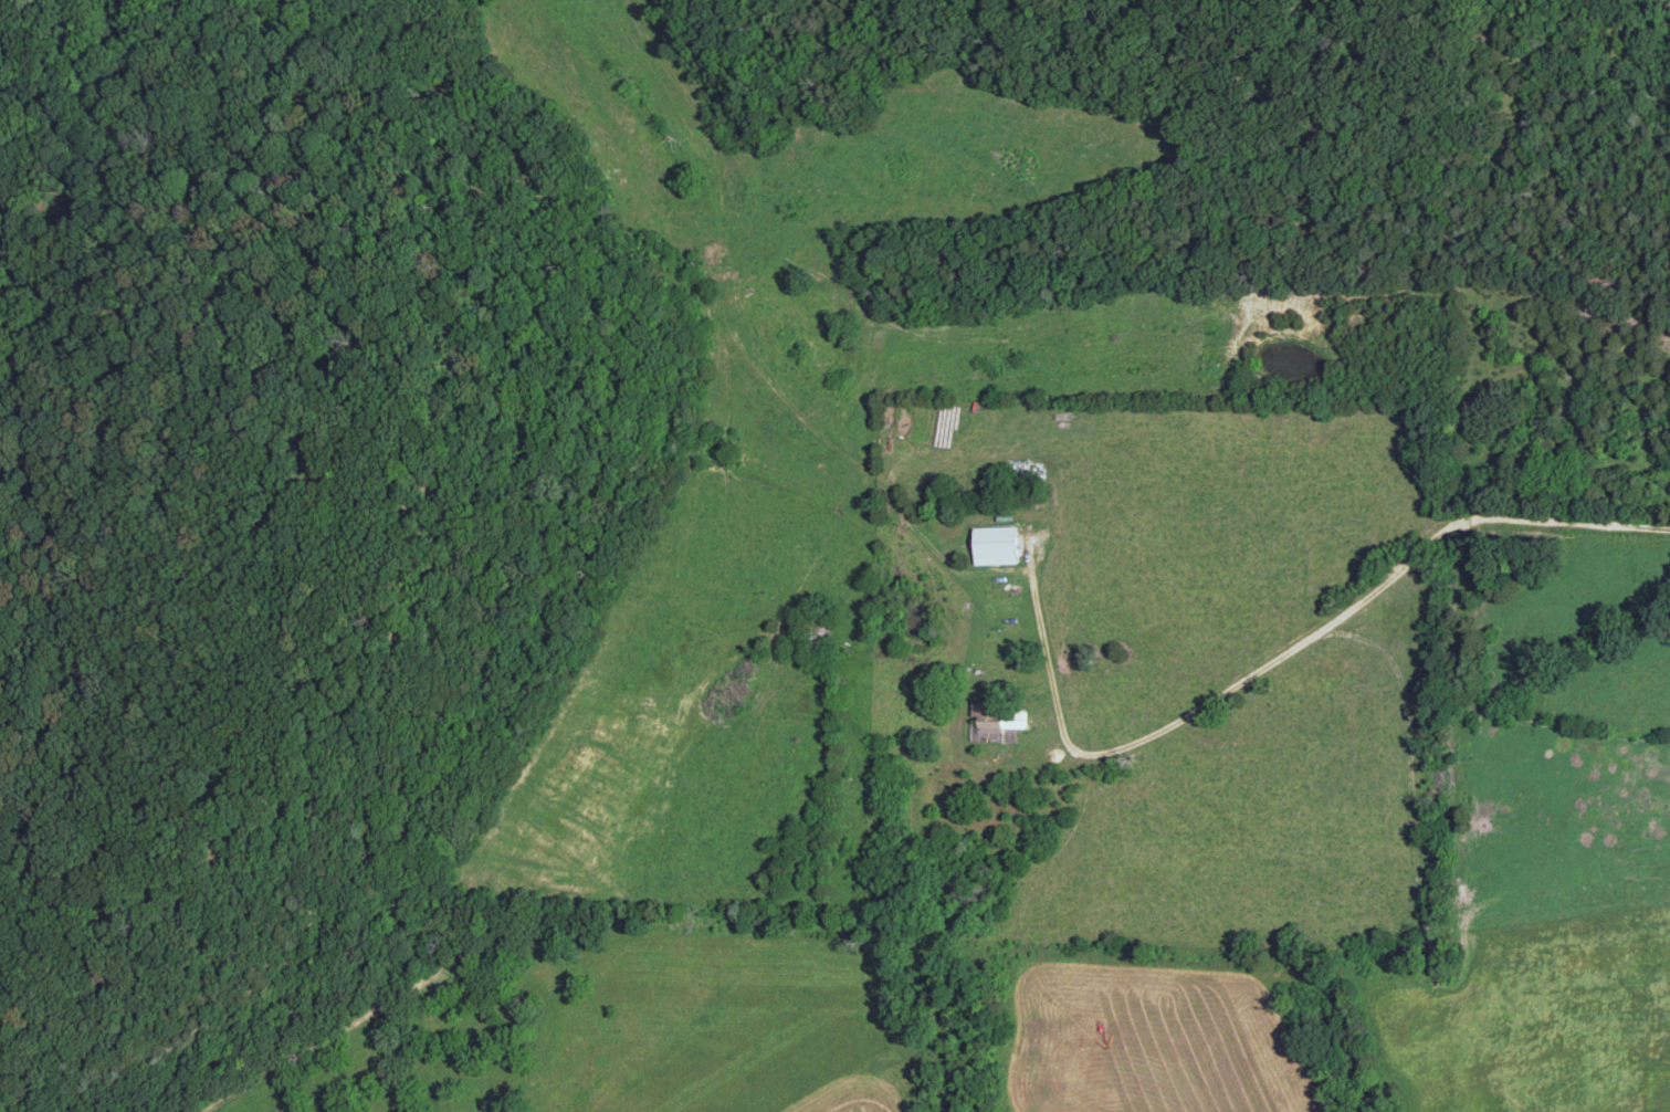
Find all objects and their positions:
building: (995, 545)
road: (1345, 577)
building: (996, 720)

